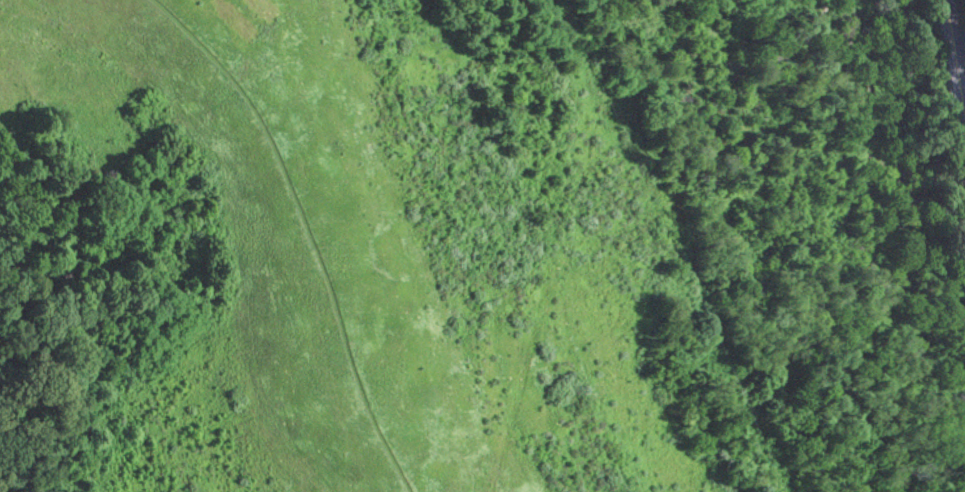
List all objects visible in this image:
road: (960, 67)
road: (956, 69)

